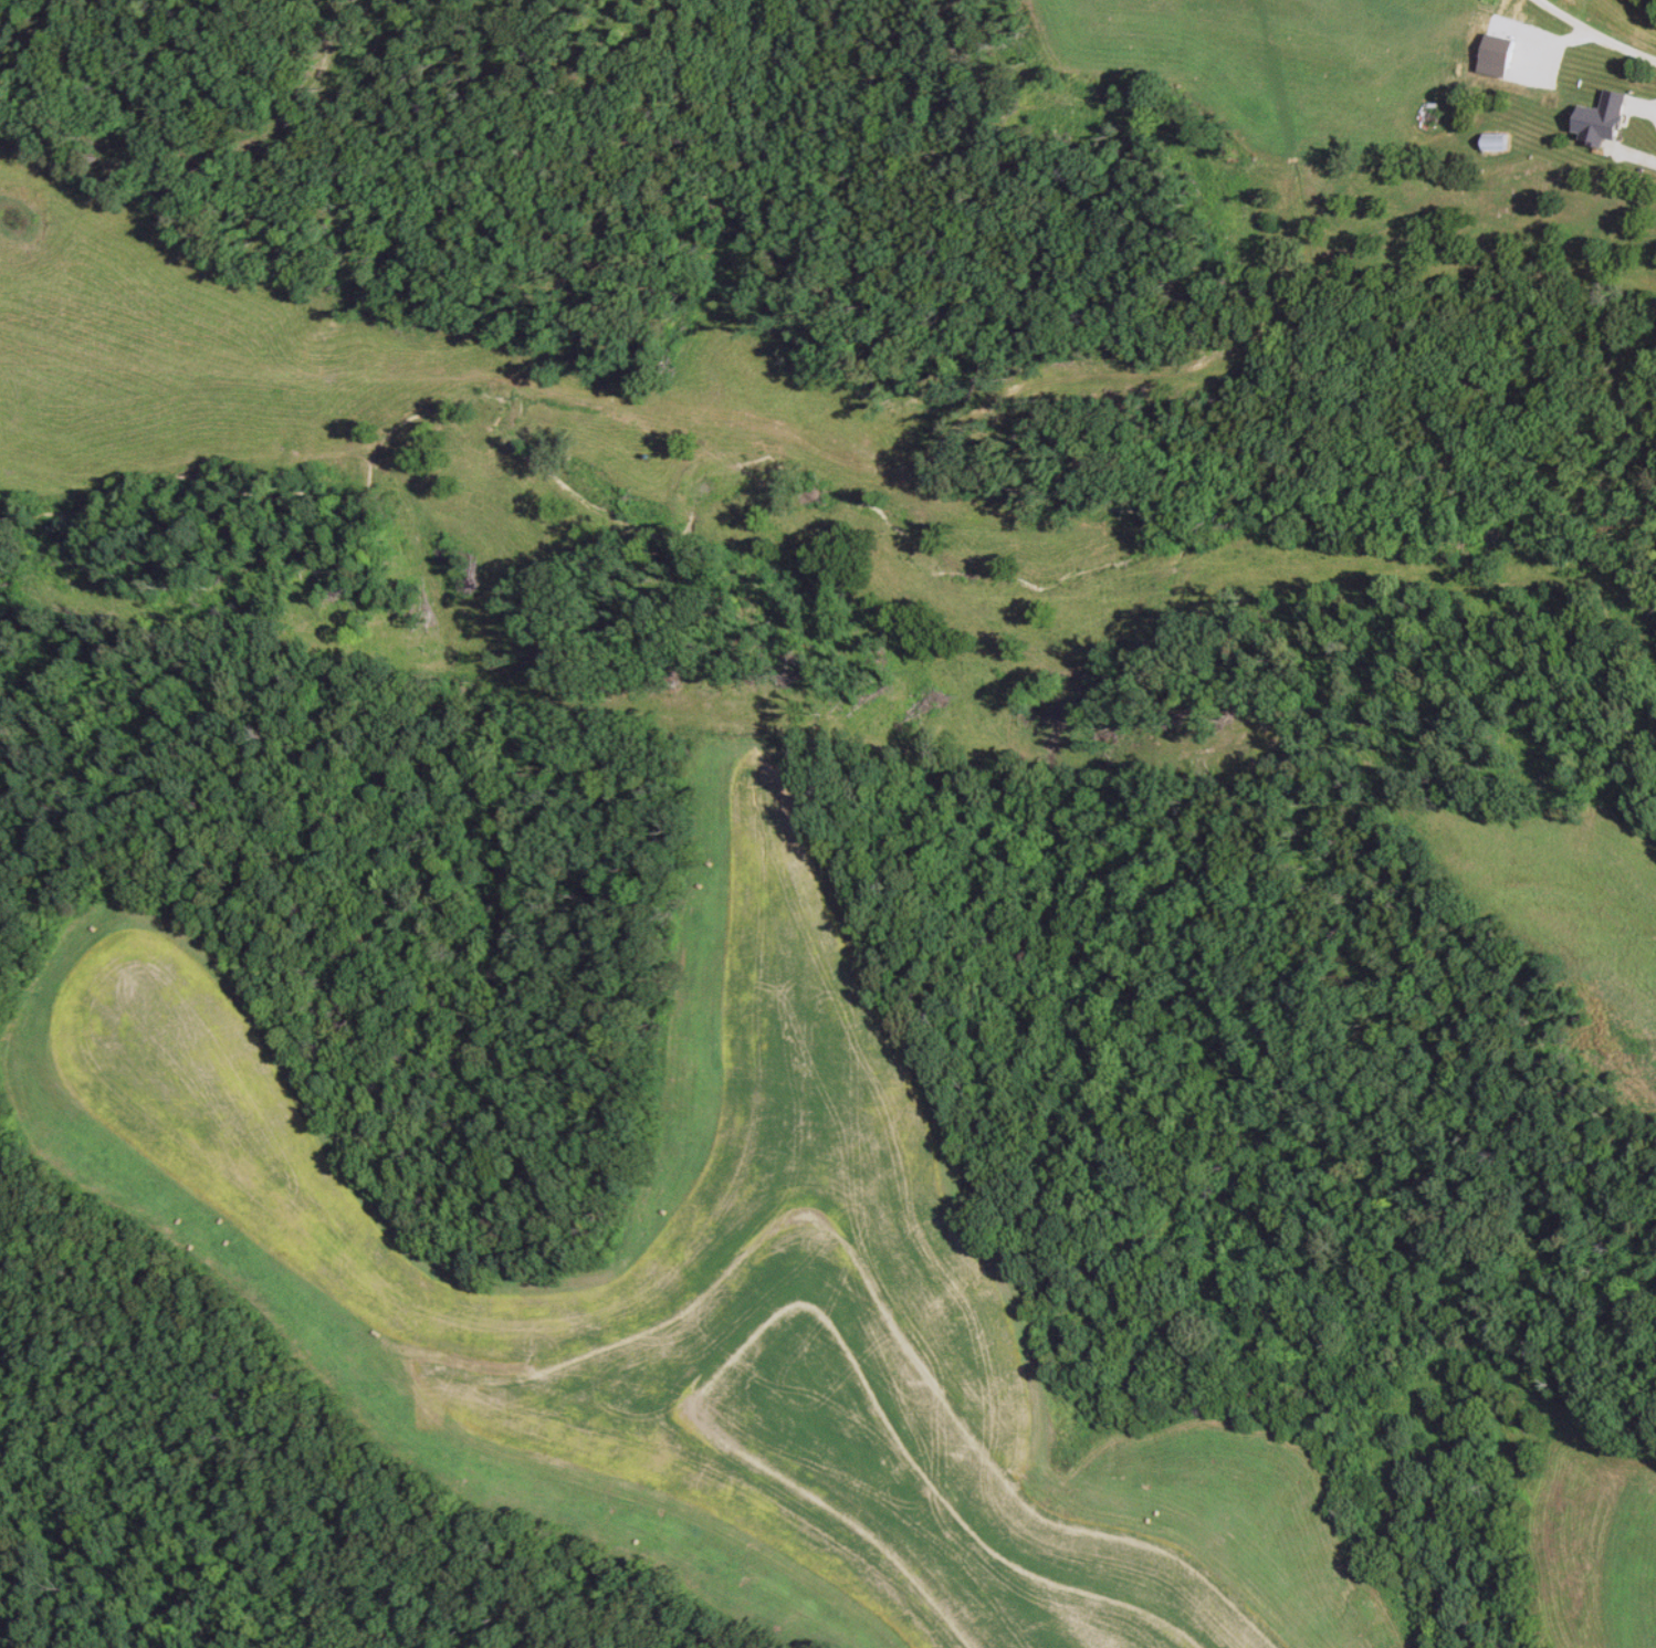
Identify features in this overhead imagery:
road: (1592, 35)
building: (1600, 118)
building: (1499, 144)

